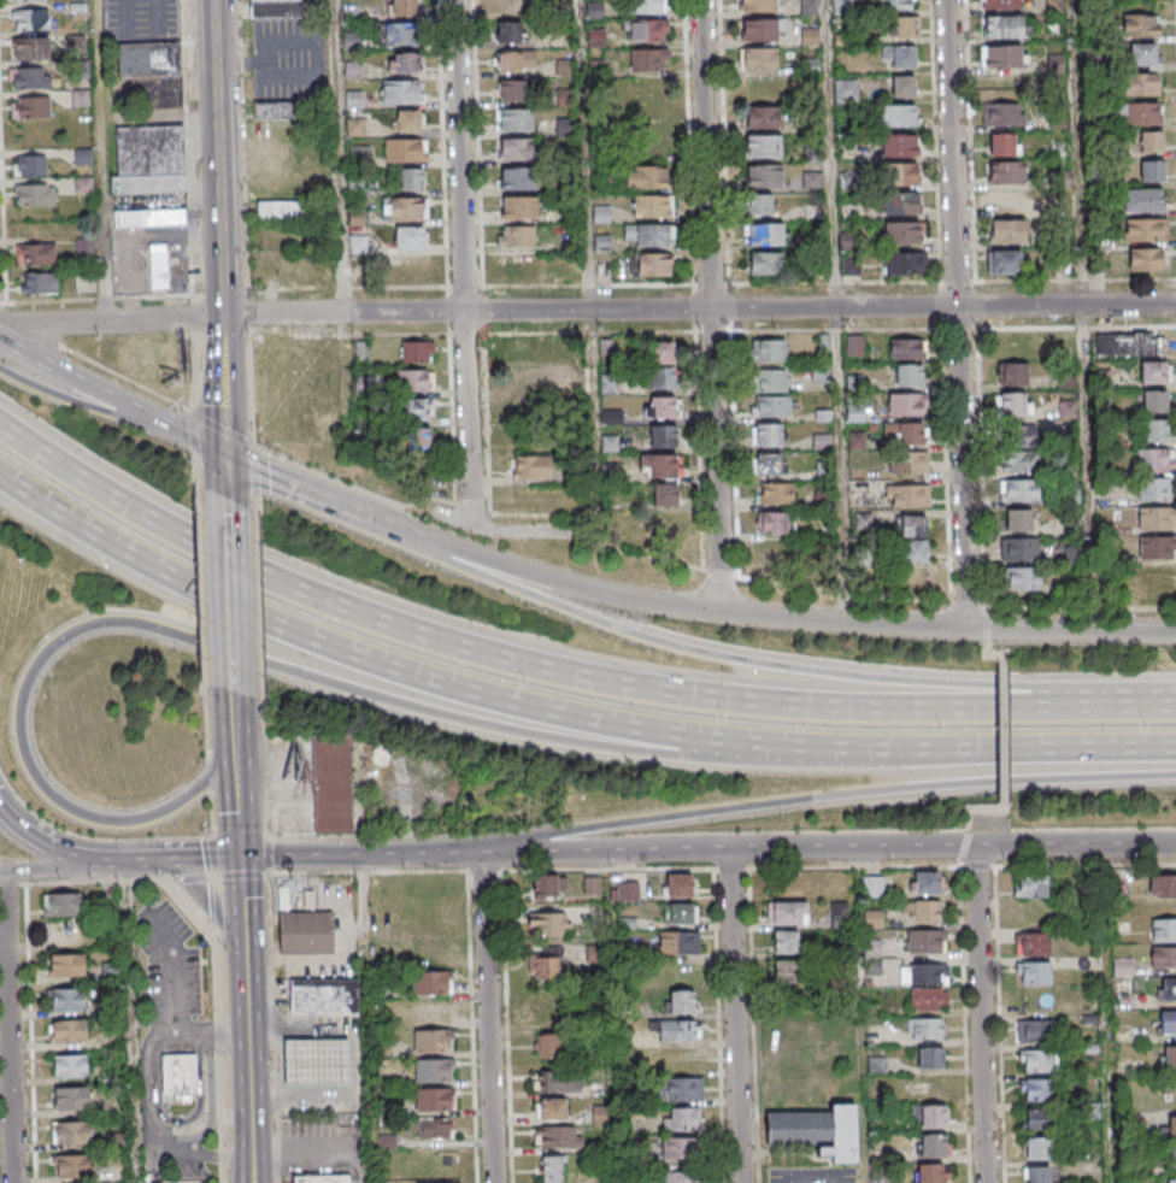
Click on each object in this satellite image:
building: (29, 0)
building: (1000, 4)
building: (647, 5)
building: (760, 5)
building: (894, 5)
building: (808, 6)
building: (275, 8)
building: (402, 8)
building: (508, 8)
building: (30, 19)
building: (1139, 25)
building: (1002, 27)
building: (902, 28)
building: (760, 29)
building: (648, 30)
building: (510, 31)
building: (398, 35)
building: (30, 48)
building: (1001, 55)
building: (1142, 55)
building: (900, 57)
building: (648, 59)
building: (758, 59)
building: (514, 60)
building: (405, 64)
building: (152, 72)
building: (30, 77)
building: (1141, 84)
building: (902, 87)
building: (647, 88)
building: (760, 88)
building: (1002, 89)
building: (511, 90)
building: (846, 92)
building: (401, 93)
building: (80, 96)
building: (30, 106)
building: (275, 111)
building: (1139, 113)
building: (1002, 114)
building: (762, 116)
building: (895, 117)
building: (514, 120)
building: (408, 122)
building: (1151, 142)
building: (1004, 143)
building: (763, 146)
building: (649, 147)
building: (898, 147)
building: (514, 148)
building: (405, 149)
building: (83, 155)
road: (343, 157)
road: (217, 158)
building: (149, 159)
building: (30, 165)
building: (1152, 170)
building: (1005, 172)
building: (899, 175)
building: (764, 176)
building: (646, 177)
building: (411, 178)
building: (517, 178)
building: (34, 194)
building: (1142, 200)
building: (1005, 201)
building: (760, 204)
building: (900, 205)
building: (651, 206)
building: (404, 207)
building: (281, 208)
building: (519, 208)
building: (149, 217)
building: (1143, 229)
building: (1006, 230)
building: (765, 234)
building: (901, 234)
building: (648, 235)
building: (517, 236)
building: (411, 237)
building: (358, 243)
building: (36, 253)
building: (1143, 258)
road: (461, 261)
building: (1004, 261)
building: (765, 263)
building: (652, 264)
building: (516, 265)
building: (902, 265)
building: (158, 267)
building: (39, 282)
road: (715, 305)
road: (698, 310)
road: (839, 310)
road: (962, 313)
road: (1086, 314)
road: (111, 323)
road: (29, 328)
road: (596, 332)
building: (854, 345)
building: (1130, 345)
building: (523, 349)
building: (769, 349)
building: (907, 349)
road: (25, 351)
building: (417, 351)
building: (661, 352)
building: (1154, 372)
building: (1011, 373)
building: (910, 376)
building: (661, 377)
building: (414, 379)
building: (527, 379)
building: (771, 379)
road: (112, 399)
building: (1012, 402)
building: (1153, 402)
road: (84, 405)
building: (906, 406)
building: (661, 407)
building: (774, 407)
building: (417, 408)
building: (854, 412)
road: (223, 416)
building: (1154, 431)
building: (1015, 434)
building: (904, 435)
building: (663, 436)
building: (766, 436)
building: (417, 440)
road: (199, 445)
traffic signals: (224, 458)
building: (1019, 460)
building: (1154, 461)
building: (907, 463)
building: (659, 465)
building: (768, 465)
road: (307, 466)
building: (531, 467)
road: (272, 481)
building: (1019, 489)
building: (1154, 490)
building: (775, 493)
building: (665, 494)
building: (907, 498)
road: (346, 513)
building: (1018, 519)
building: (1156, 519)
building: (771, 523)
building: (661, 524)
road: (408, 537)
building: (909, 540)
building: (1018, 548)
building: (1157, 548)
building: (771, 553)
road: (648, 555)
road: (722, 575)
building: (1158, 577)
building: (1022, 578)
road: (846, 593)
road: (970, 605)
road: (229, 607)
road: (706, 610)
road: (1078, 610)
road: (989, 617)
road: (982, 628)
road: (1082, 630)
road: (990, 635)
road: (205, 645)
road: (760, 663)
road: (561, 672)
road: (563, 716)
road: (233, 723)
road: (1004, 743)
building: (331, 784)
road: (236, 800)
road: (837, 801)
road: (966, 835)
road: (1069, 843)
road: (847, 846)
road: (67, 849)
road: (207, 854)
traffic signals: (239, 854)
road: (159, 855)
road: (175, 855)
road: (486, 855)
road: (960, 855)
road: (40, 866)
road: (2, 870)
building: (678, 884)
building: (925, 884)
building: (592, 885)
building: (1030, 885)
building: (1163, 885)
building: (548, 887)
building: (872, 887)
building: (628, 890)
building: (65, 905)
road: (217, 905)
road: (241, 910)
building: (921, 911)
building: (680, 913)
building: (787, 913)
building: (839, 913)
building: (1031, 914)
building: (548, 925)
building: (1163, 929)
building: (306, 934)
building: (677, 941)
building: (924, 941)
building: (784, 942)
building: (1031, 943)
building: (431, 949)
building: (1163, 955)
building: (69, 964)
building: (543, 967)
road: (177, 971)
building: (111, 972)
building: (784, 972)
building: (1033, 972)
building: (923, 973)
building: (430, 983)
building: (1168, 989)
building: (325, 995)
building: (69, 999)
building: (928, 999)
building: (682, 1001)
building: (549, 1006)
road: (737, 1014)
road: (984, 1014)
road: (370, 1018)
road: (134, 1019)
road: (489, 1019)
building: (1168, 1023)
road: (10, 1026)
building: (925, 1028)
building: (70, 1029)
building: (678, 1030)
road: (213, 1031)
building: (1035, 1031)
building: (431, 1042)
building: (547, 1046)
building: (1168, 1057)
building: (930, 1058)
road: (284, 1059)
building: (1036, 1060)
building: (318, 1061)
building: (72, 1065)
building: (433, 1071)
road: (248, 1073)
building: (182, 1075)
building: (554, 1081)
building: (677, 1088)
building: (1036, 1089)
building: (73, 1096)
building: (434, 1100)
building: (551, 1108)
building: (931, 1116)
building: (1037, 1118)
building: (682, 1119)
road: (152, 1124)
building: (434, 1128)
building: (1168, 1128)
building: (818, 1130)
building: (73, 1131)
building: (558, 1136)
road: (618, 1143)
building: (933, 1146)
building: (1037, 1148)
building: (680, 1149)
road: (318, 1150)
building: (1171, 1156)
building: (75, 1165)
building: (552, 1169)
building: (933, 1173)
building: (1037, 1175)
road: (812, 1176)
building: (324, 1177)
building: (682, 1177)
building: (1170, 1181)
building: (437, 1182)

